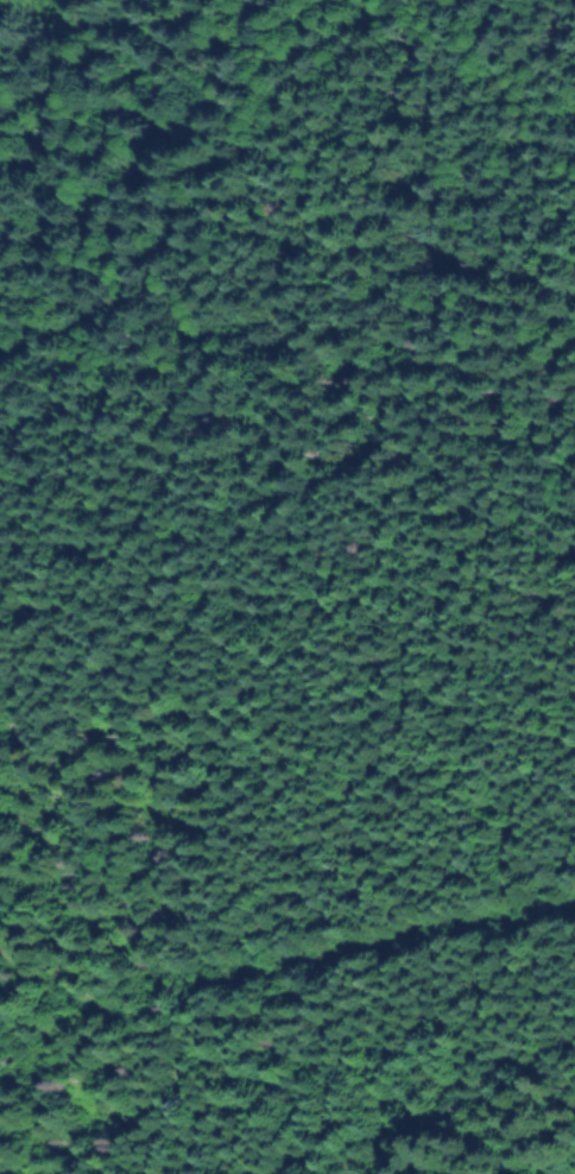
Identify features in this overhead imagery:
road: (285, 962)

